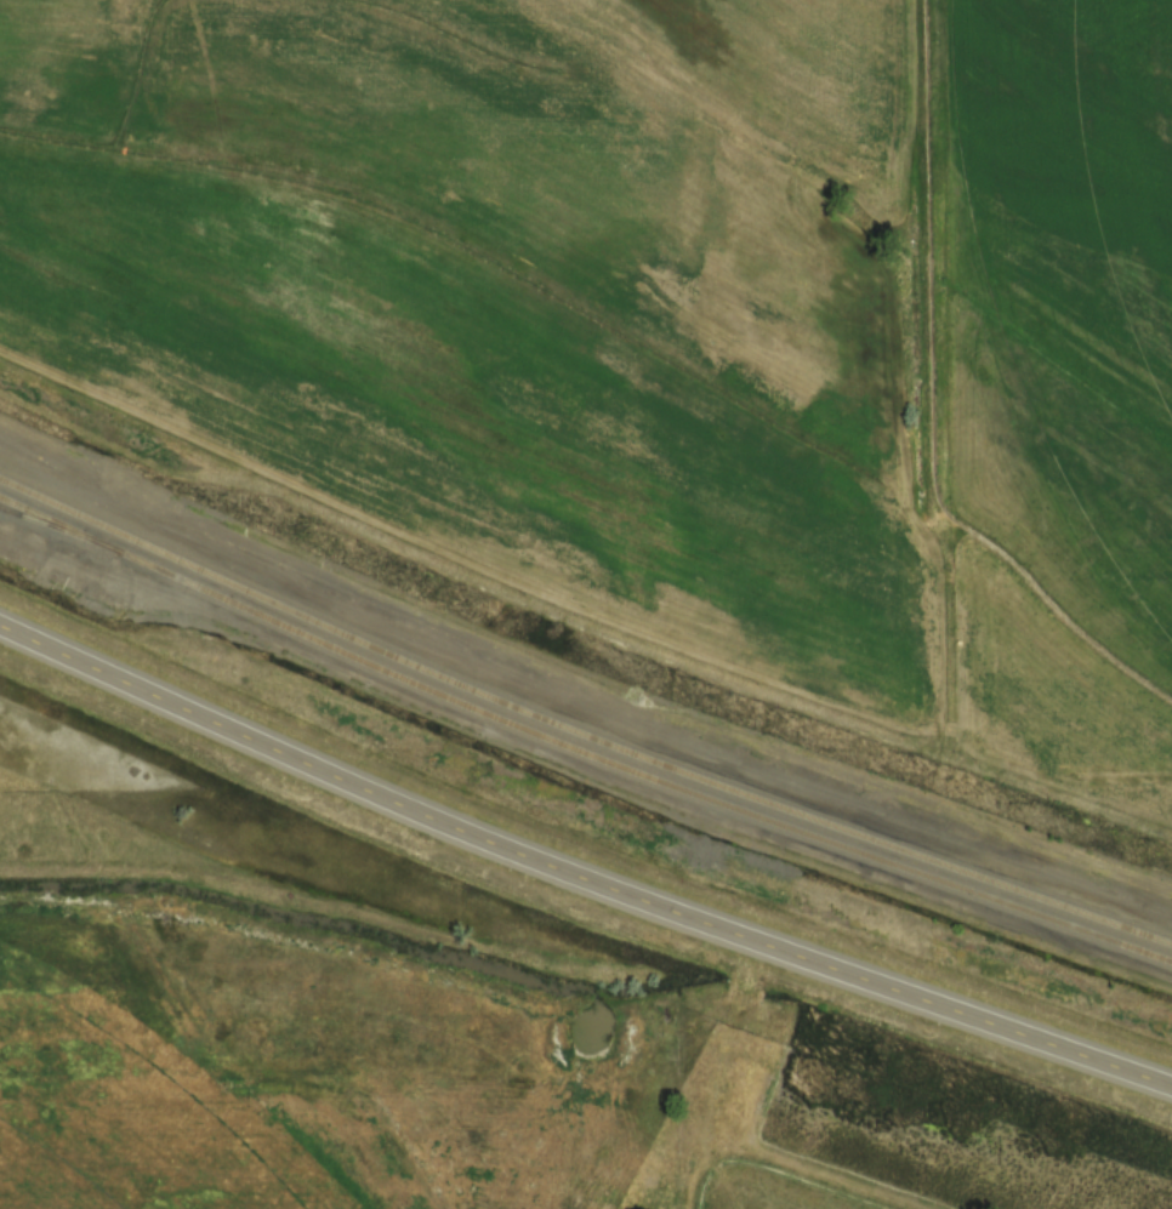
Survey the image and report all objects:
railway: (61, 500)
railway: (57, 525)
railway: (578, 731)
railway: (578, 749)
road: (578, 874)

